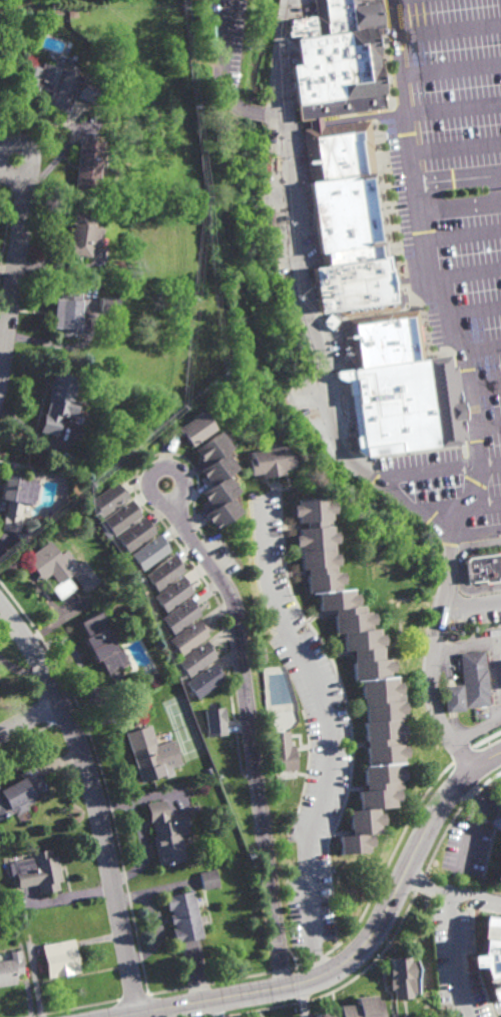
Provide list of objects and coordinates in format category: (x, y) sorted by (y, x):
road: (448, 30)
building: (334, 61)
road: (450, 70)
road: (223, 78)
building: (56, 84)
road: (453, 108)
road: (344, 118)
building: (313, 122)
road: (15, 142)
road: (456, 149)
road: (0, 158)
building: (87, 167)
road: (457, 178)
road: (500, 179)
road: (460, 206)
building: (345, 221)
road: (462, 233)
building: (82, 235)
road: (465, 274)
road: (15, 277)
road: (301, 294)
building: (109, 304)
road: (473, 311)
building: (66, 315)
road: (481, 347)
building: (396, 387)
road: (485, 389)
road: (468, 390)
building: (59, 401)
building: (196, 425)
road: (487, 427)
building: (266, 459)
road: (157, 471)
road: (437, 472)
building: (218, 476)
building: (16, 497)
building: (108, 497)
road: (483, 504)
building: (121, 515)
building: (28, 528)
building: (135, 532)
road: (474, 537)
building: (150, 550)
building: (483, 557)
building: (62, 568)
building: (164, 571)
building: (173, 592)
road: (473, 604)
building: (180, 614)
building: (349, 631)
building: (188, 636)
building: (102, 642)
building: (196, 657)
road: (496, 663)
building: (479, 669)
building: (204, 679)
building: (460, 684)
road: (31, 718)
building: (215, 722)
road: (477, 727)
road: (251, 733)
road: (331, 733)
building: (151, 753)
building: (284, 753)
building: (209, 770)
building: (23, 790)
road: (471, 794)
road: (96, 797)
building: (369, 805)
building: (497, 825)
road: (472, 827)
building: (167, 832)
building: (497, 866)
building: (39, 870)
building: (209, 878)
road: (427, 880)
road: (474, 895)
building: (184, 916)
road: (356, 952)
road: (455, 954)
building: (489, 955)
building: (61, 957)
building: (11, 966)
building: (401, 978)
road: (302, 999)
road: (217, 1007)
building: (360, 1007)
building: (319, 1015)

